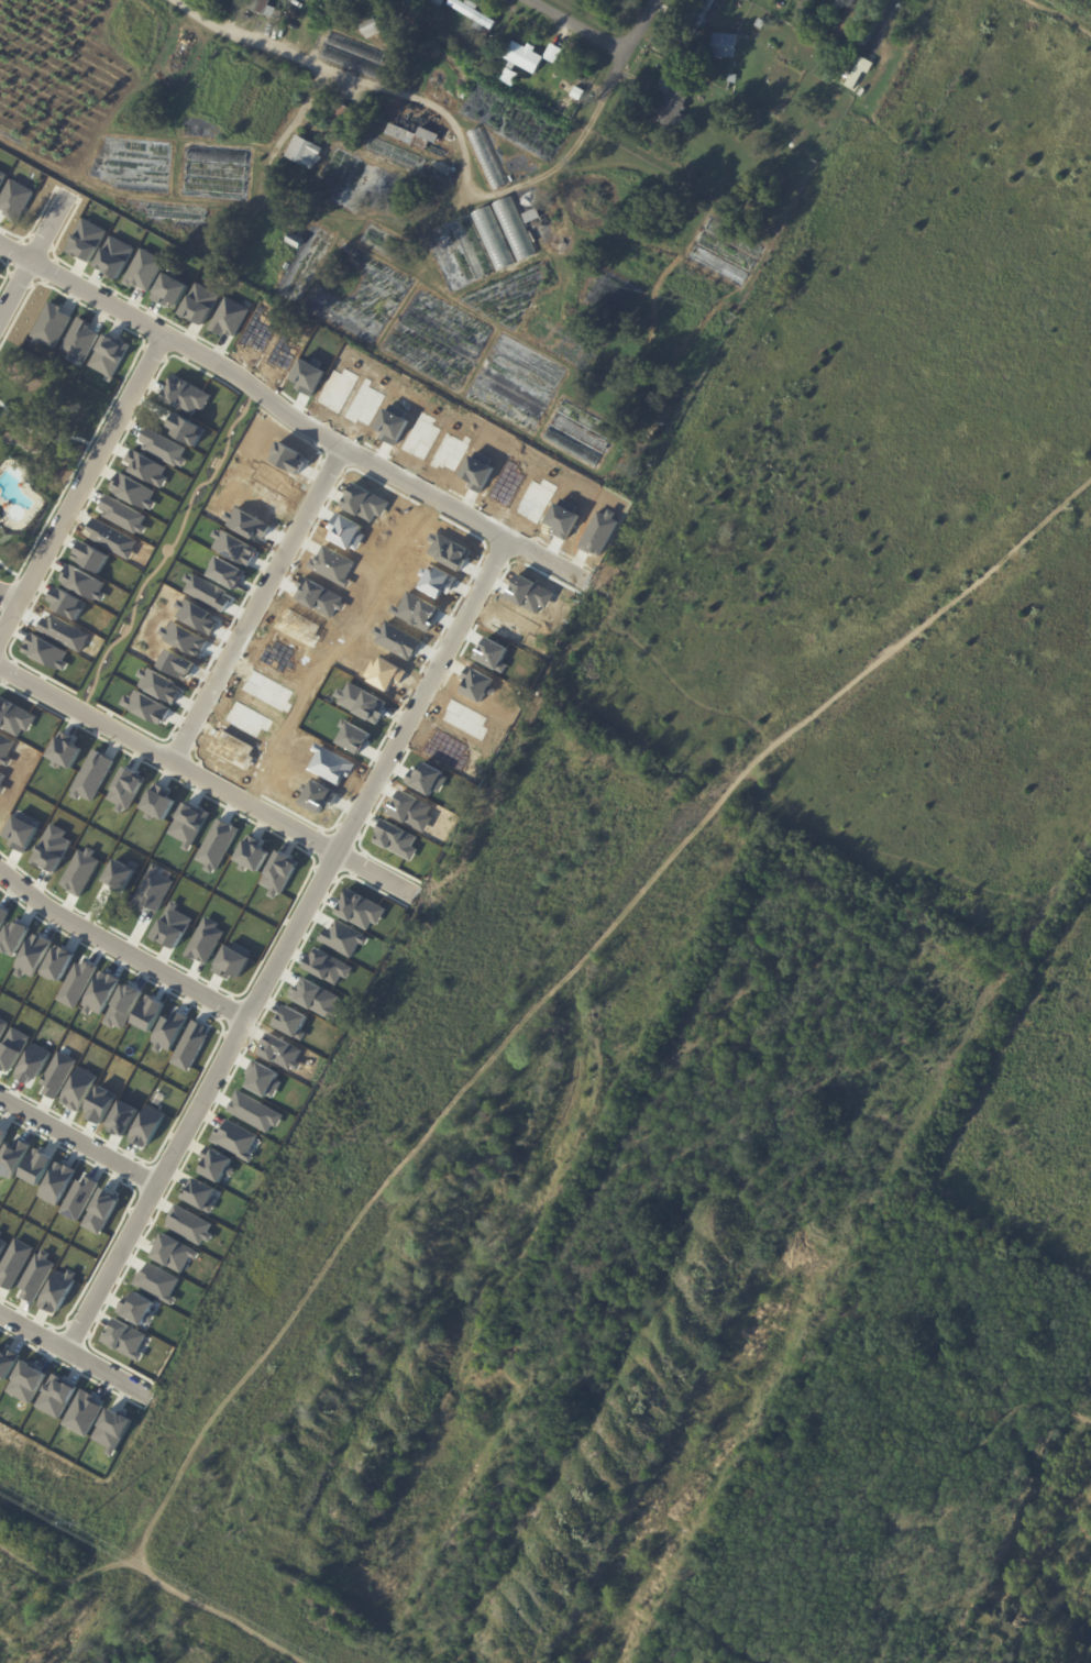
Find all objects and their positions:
building: (374, 2)
building: (437, 4)
building: (780, 4)
building: (263, 7)
building: (475, 13)
building: (708, 13)
building: (849, 18)
building: (762, 23)
road: (577, 25)
building: (372, 27)
building: (487, 30)
building: (725, 44)
building: (838, 47)
building: (552, 52)
building: (466, 54)
building: (525, 57)
road: (311, 60)
road: (618, 62)
building: (859, 71)
building: (830, 75)
building: (580, 92)
building: (673, 102)
building: (350, 112)
building: (400, 133)
building: (430, 134)
building: (306, 152)
building: (396, 154)
building: (487, 158)
building: (1, 174)
road: (502, 190)
building: (14, 199)
building: (533, 216)
building: (513, 227)
building: (492, 236)
building: (86, 240)
building: (296, 240)
building: (472, 246)
road: (14, 253)
building: (114, 255)
road: (31, 258)
building: (287, 265)
building: (143, 268)
building: (168, 289)
building: (199, 302)
building: (228, 317)
building: (51, 324)
building: (257, 331)
building: (78, 339)
building: (282, 353)
building: (108, 354)
building: (309, 375)
building: (339, 388)
building: (186, 394)
building: (366, 404)
building: (393, 423)
road: (301, 425)
building: (187, 429)
building: (422, 436)
building: (164, 447)
building: (451, 451)
building: (288, 456)
building: (147, 467)
building: (478, 471)
building: (273, 477)
building: (508, 483)
building: (133, 489)
road: (84, 493)
building: (537, 498)
building: (256, 499)
building: (365, 503)
building: (123, 514)
building: (564, 518)
building: (247, 522)
building: (348, 531)
building: (599, 532)
building: (112, 538)
building: (235, 547)
building: (449, 550)
building: (91, 557)
building: (333, 565)
building: (227, 572)
building: (438, 581)
building: (84, 582)
building: (208, 591)
road: (13, 593)
building: (530, 594)
building: (319, 596)
building: (68, 603)
road: (263, 608)
building: (416, 610)
building: (197, 616)
building: (514, 624)
building: (299, 628)
building: (64, 631)
building: (185, 638)
building: (397, 640)
building: (46, 651)
building: (493, 653)
building: (277, 656)
building: (177, 663)
building: (385, 673)
building: (158, 684)
building: (477, 684)
building: (268, 691)
road: (659, 693)
building: (361, 702)
building: (146, 706)
building: (14, 717)
building: (466, 718)
building: (249, 719)
building: (353, 736)
building: (5, 748)
building: (233, 749)
building: (448, 749)
building: (64, 750)
building: (331, 763)
building: (92, 775)
building: (1, 777)
building: (427, 779)
road: (208, 781)
building: (2, 789)
building: (126, 789)
building: (319, 796)
building: (158, 802)
building: (412, 811)
building: (189, 824)
building: (22, 830)
building: (397, 838)
building: (218, 844)
building: (52, 848)
building: (252, 853)
building: (81, 871)
building: (279, 873)
building: (121, 874)
building: (153, 889)
building: (361, 908)
building: (3, 915)
building: (173, 926)
building: (14, 937)
building: (344, 937)
building: (205, 940)
road: (291, 948)
road: (123, 949)
building: (33, 955)
building: (233, 960)
building: (58, 962)
building: (329, 966)
building: (78, 983)
building: (101, 993)
building: (317, 998)
building: (124, 1006)
building: (150, 1012)
building: (293, 1021)
building: (2, 1026)
building: (170, 1031)
building: (190, 1045)
road: (498, 1047)
building: (12, 1048)
building: (282, 1051)
building: (33, 1062)
building: (58, 1073)
building: (263, 1079)
building: (79, 1088)
building: (101, 1103)
building: (255, 1111)
building: (122, 1117)
building: (147, 1125)
building: (2, 1135)
building: (235, 1138)
road: (79, 1142)
building: (13, 1157)
building: (216, 1164)
building: (37, 1166)
building: (57, 1182)
building: (199, 1193)
building: (79, 1197)
building: (101, 1211)
building: (189, 1224)
building: (0, 1232)
building: (2, 1244)
building: (174, 1252)
building: (14, 1263)
building: (36, 1276)
building: (157, 1282)
building: (58, 1290)
building: (137, 1308)
building: (124, 1337)
road: (44, 1339)
building: (7, 1362)
building: (26, 1381)
building: (56, 1396)
building: (84, 1412)
building: (112, 1430)
power tower: (85, 1522)

